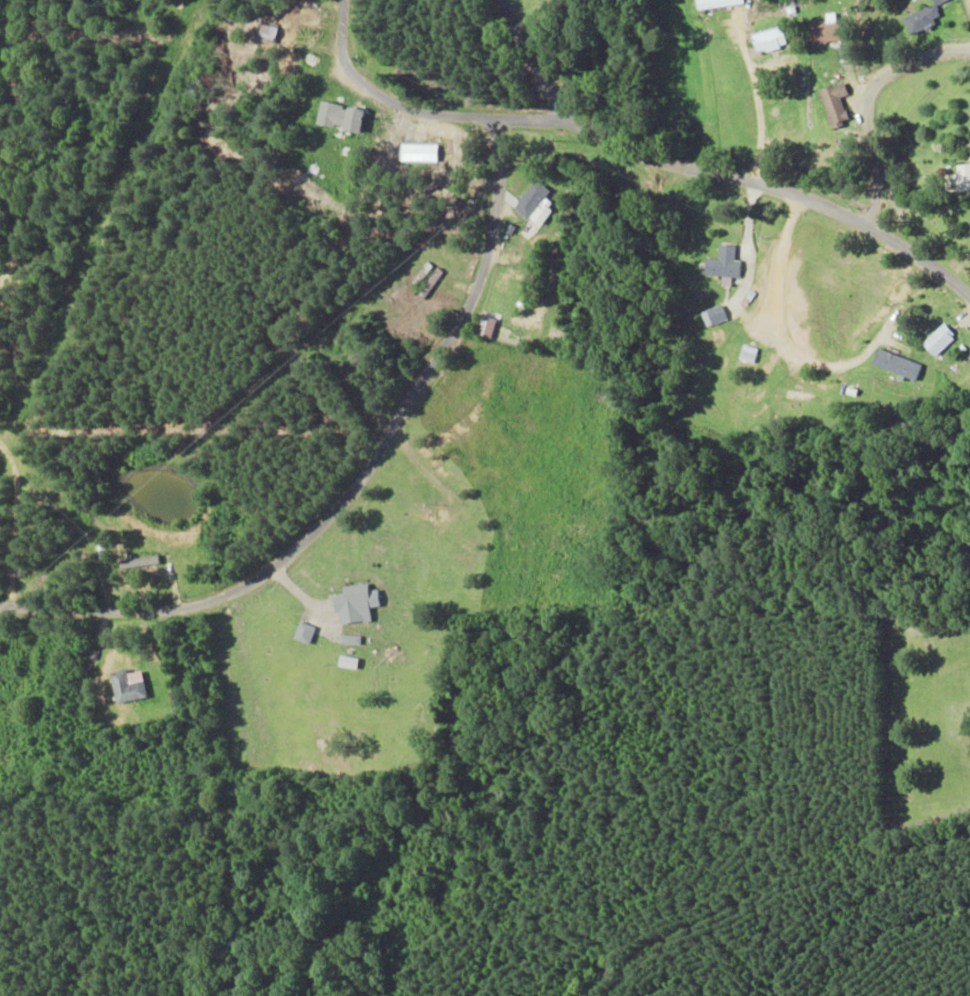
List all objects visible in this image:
building: (715, 3)
building: (922, 17)
road: (530, 30)
building: (823, 30)
building: (767, 39)
building: (834, 103)
building: (339, 116)
road: (865, 137)
road: (391, 157)
road: (772, 159)
building: (958, 179)
building: (534, 204)
road: (684, 218)
building: (722, 263)
building: (712, 316)
building: (938, 340)
building: (747, 354)
building: (895, 364)
road: (968, 372)
road: (317, 532)
building: (137, 562)
building: (354, 604)
building: (303, 633)
building: (126, 686)
road: (812, 906)

